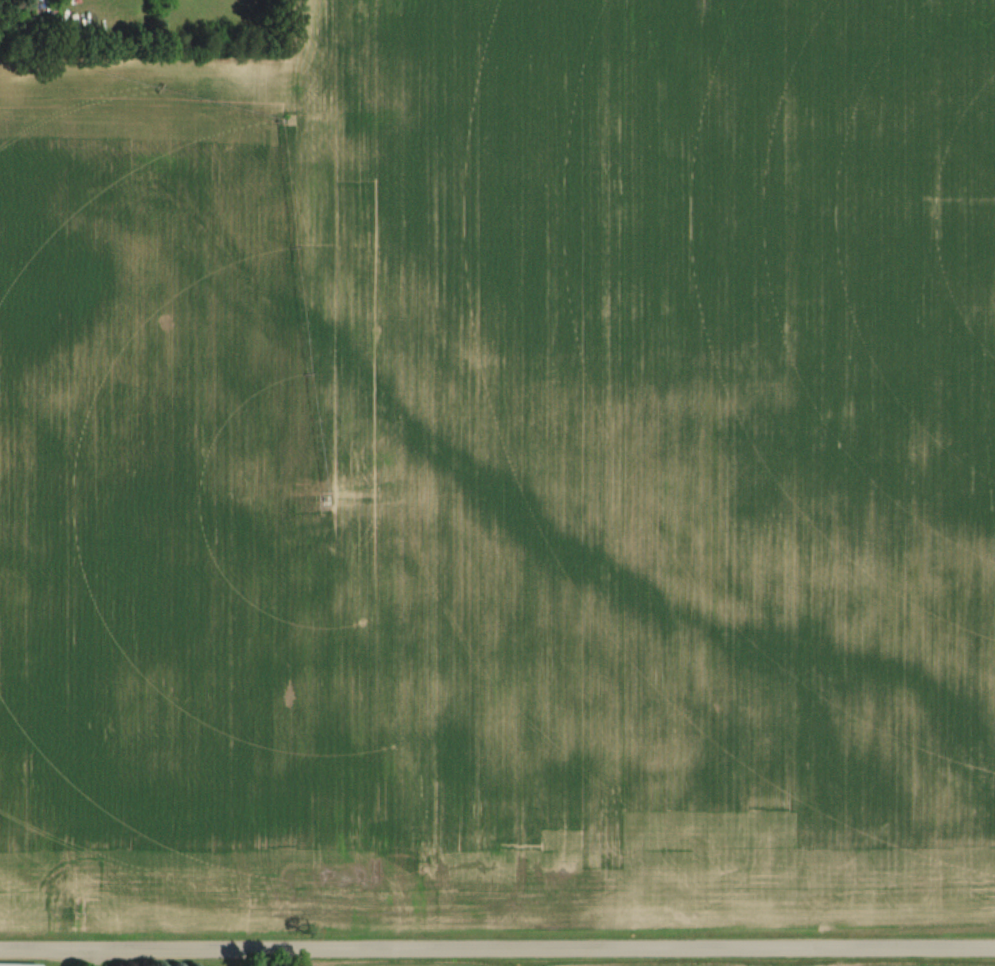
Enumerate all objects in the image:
road: (497, 949)
building: (17, 964)

